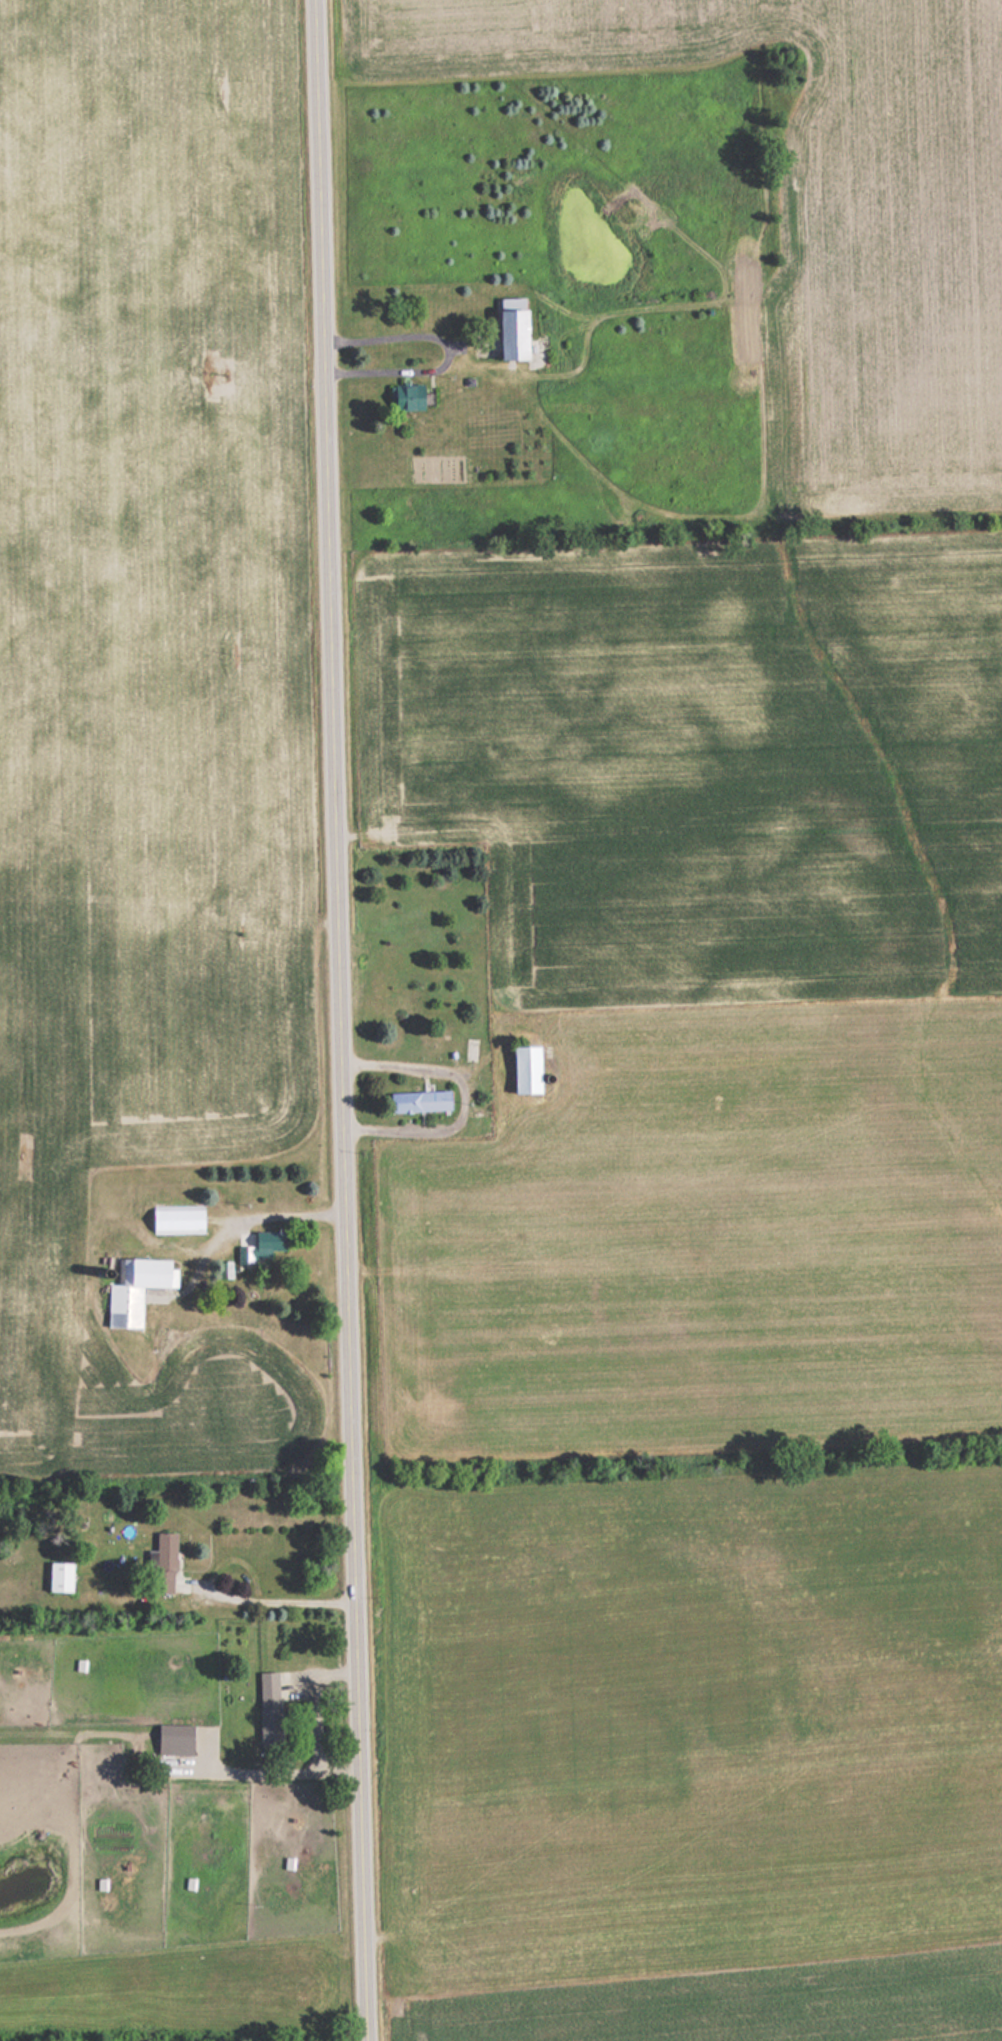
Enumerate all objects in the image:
building: (511, 335)
building: (406, 398)
road: (338, 1020)
building: (525, 1069)
building: (419, 1101)
building: (176, 1220)
building: (261, 1246)
building: (135, 1289)
building: (164, 1561)
building: (59, 1576)
building: (268, 1708)
building: (174, 1739)

